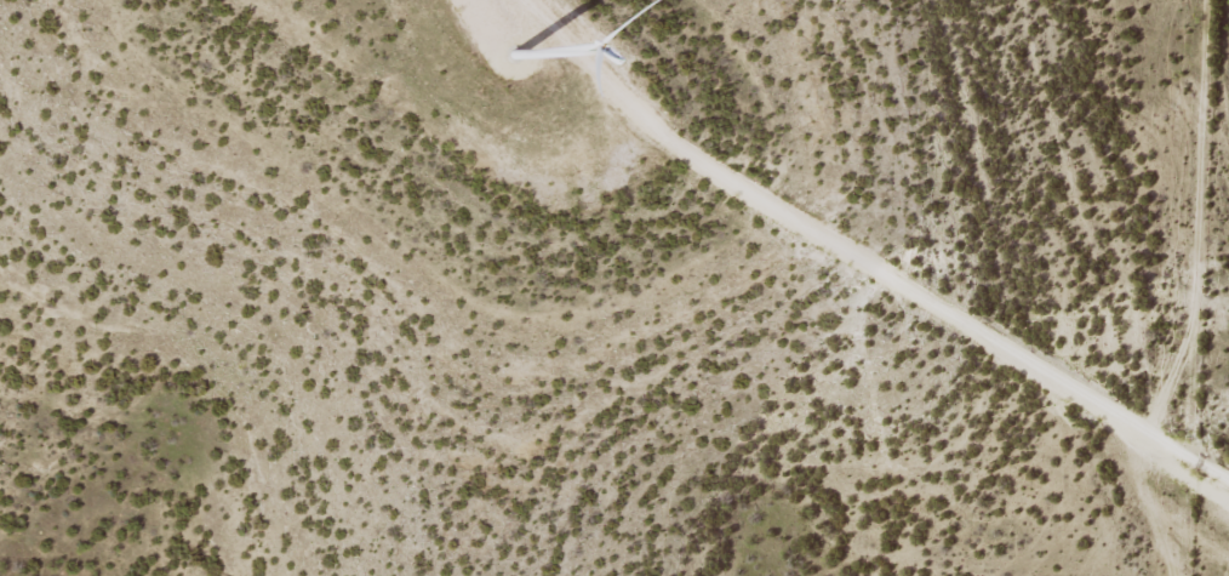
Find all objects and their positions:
wind turbine: (514, 53)
road: (1222, 495)

